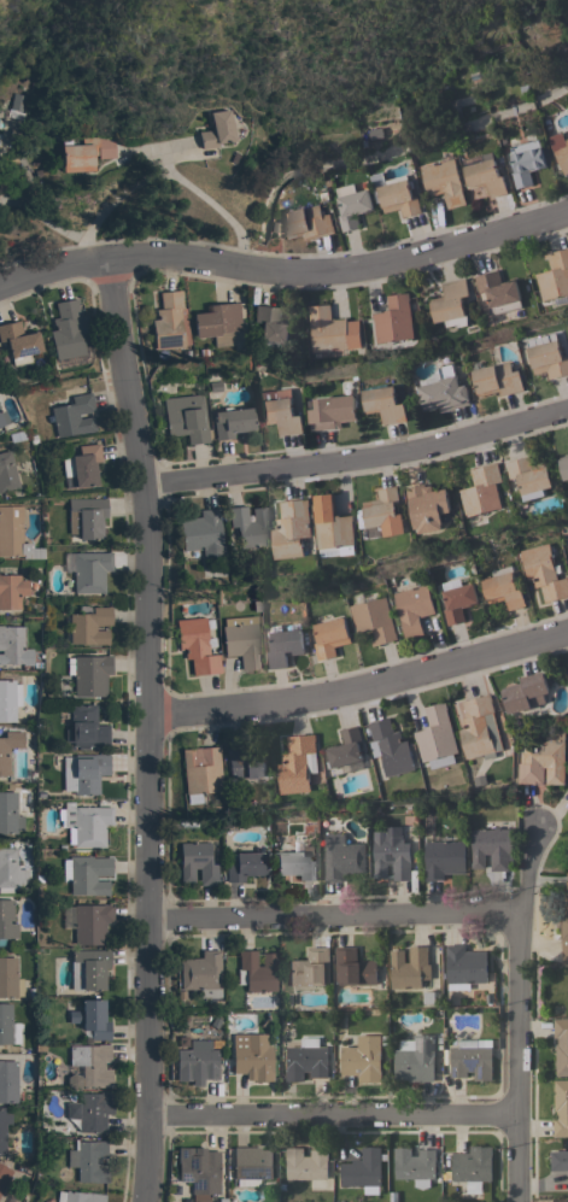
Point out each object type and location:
building: (216, 129)
building: (567, 129)
building: (560, 148)
road: (380, 151)
building: (82, 152)
building: (526, 160)
building: (484, 174)
road: (159, 175)
building: (444, 181)
building: (394, 193)
building: (351, 205)
building: (308, 222)
road: (285, 271)
building: (555, 274)
building: (498, 291)
building: (451, 303)
building: (169, 321)
building: (394, 321)
building: (216, 322)
building: (270, 328)
building: (64, 329)
building: (333, 329)
building: (18, 341)
building: (547, 358)
building: (497, 379)
building: (443, 391)
building: (383, 404)
building: (279, 411)
building: (332, 412)
building: (72, 415)
building: (2, 417)
building: (185, 418)
building: (230, 421)
road: (356, 462)
building: (81, 465)
building: (564, 465)
building: (6, 471)
building: (531, 475)
building: (482, 489)
building: (427, 506)
building: (385, 511)
building: (84, 516)
building: (247, 526)
building: (333, 526)
building: (291, 528)
building: (200, 532)
building: (14, 534)
building: (89, 570)
building: (543, 571)
building: (503, 587)
building: (11, 590)
building: (457, 602)
building: (412, 608)
building: (373, 618)
building: (88, 625)
building: (329, 637)
building: (241, 640)
building: (194, 645)
building: (285, 645)
building: (12, 646)
building: (88, 674)
road: (359, 686)
building: (525, 692)
building: (8, 698)
building: (84, 727)
building: (479, 727)
road: (147, 729)
building: (437, 737)
building: (7, 745)
building: (69, 746)
building: (390, 746)
building: (346, 747)
building: (244, 762)
building: (540, 762)
building: (298, 763)
building: (82, 772)
building: (199, 772)
building: (8, 813)
building: (84, 823)
building: (491, 848)
building: (392, 851)
building: (341, 857)
building: (444, 858)
building: (195, 862)
building: (242, 863)
building: (295, 863)
building: (10, 870)
building: (86, 874)
building: (567, 880)
road: (335, 917)
building: (6, 920)
building: (89, 922)
building: (564, 931)
building: (464, 966)
building: (353, 967)
building: (88, 968)
building: (310, 968)
building: (410, 968)
building: (254, 971)
building: (200, 973)
building: (8, 978)
road: (519, 1014)
building: (90, 1019)
building: (7, 1025)
building: (561, 1045)
building: (251, 1056)
building: (306, 1059)
building: (362, 1059)
building: (415, 1059)
building: (472, 1059)
building: (198, 1060)
building: (89, 1063)
building: (7, 1080)
building: (561, 1107)
building: (92, 1110)
road: (338, 1118)
building: (2, 1125)
building: (88, 1160)
building: (558, 1160)
building: (473, 1163)
building: (250, 1165)
building: (414, 1165)
building: (306, 1166)
building: (363, 1171)
building: (199, 1172)
building: (4, 1175)
building: (77, 1196)
building: (558, 1201)

